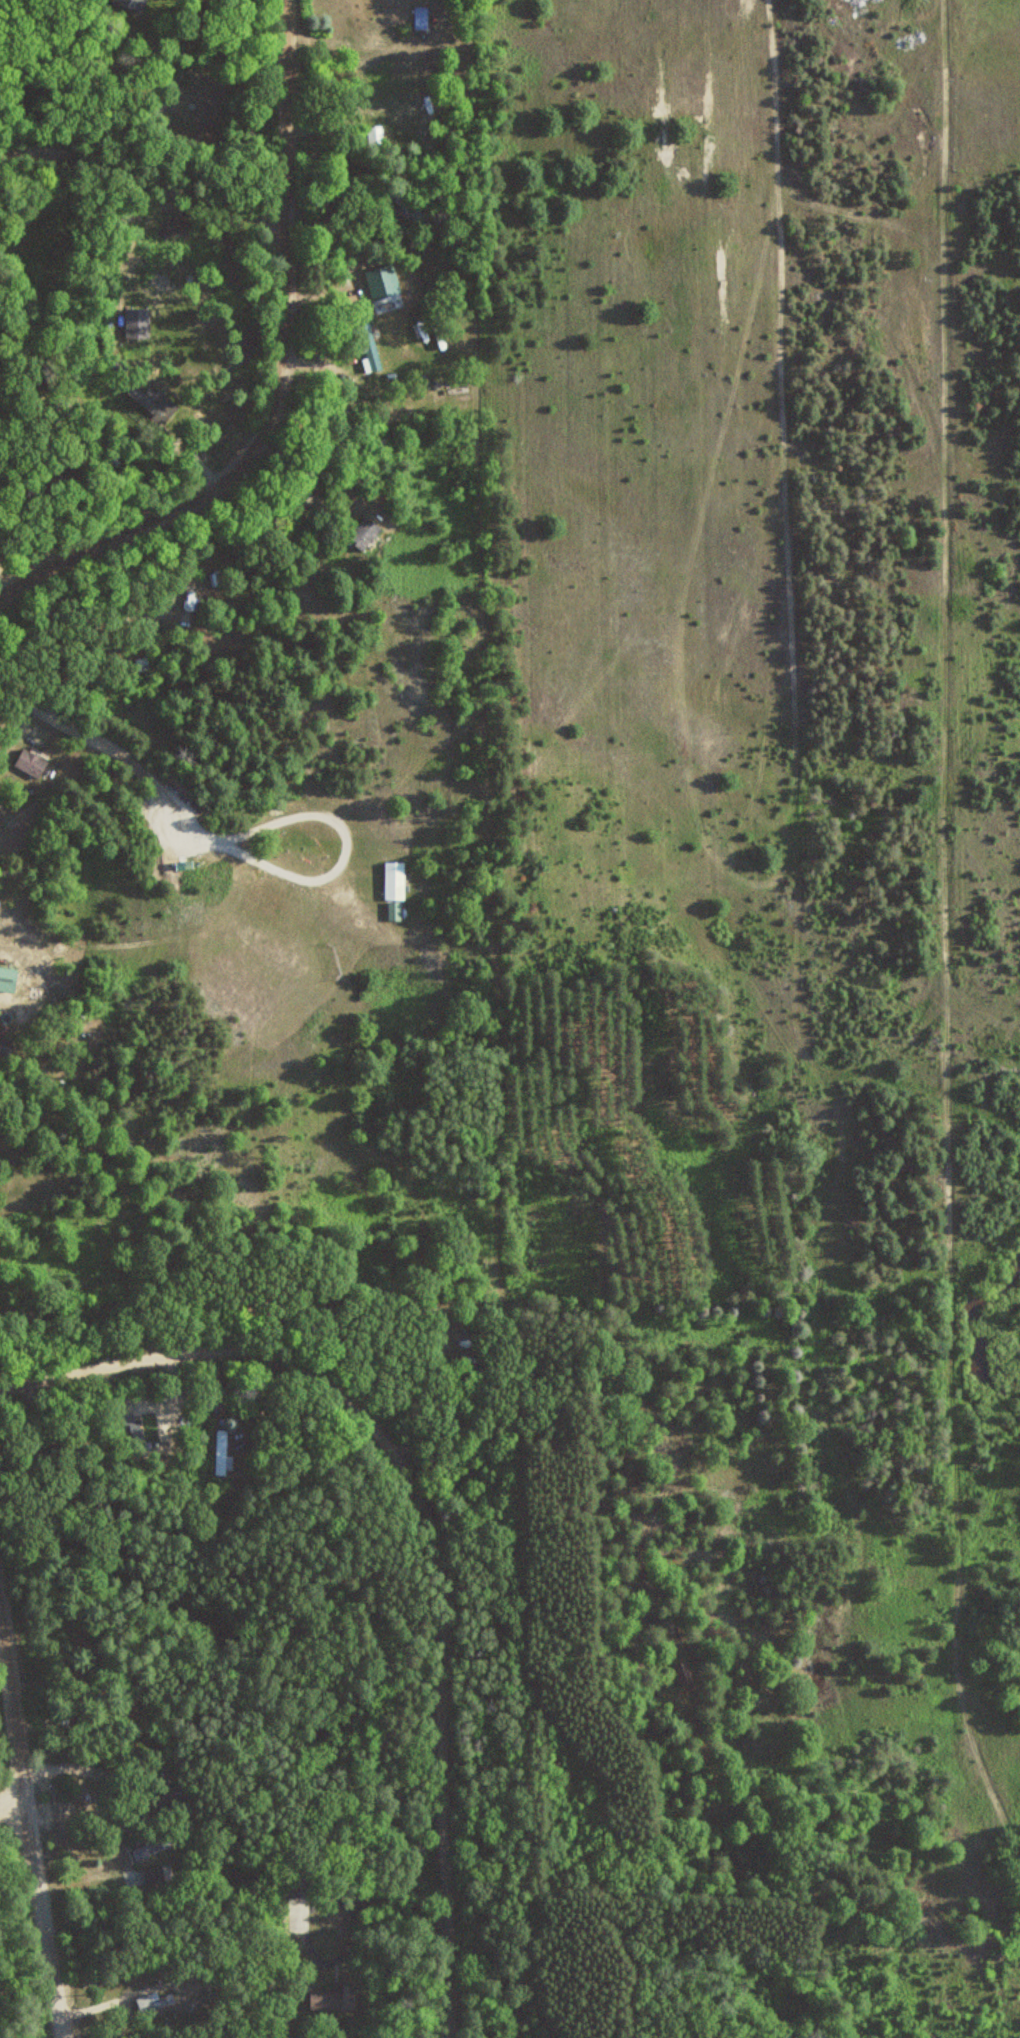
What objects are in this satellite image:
building: (136, 3)
building: (421, 17)
road: (144, 176)
building: (409, 205)
building: (370, 348)
road: (281, 375)
building: (155, 405)
building: (365, 532)
road: (102, 741)
building: (31, 762)
building: (395, 881)
building: (395, 911)
building: (8, 977)
building: (6, 1046)
building: (463, 1343)
building: (71, 1451)
building: (224, 1453)
road: (428, 1525)
building: (327, 1586)
building: (684, 1674)
building: (171, 1797)
road: (11, 1801)
road: (25, 1815)
building: (156, 1845)
building: (157, 1873)
building: (328, 1999)
building: (155, 2003)

